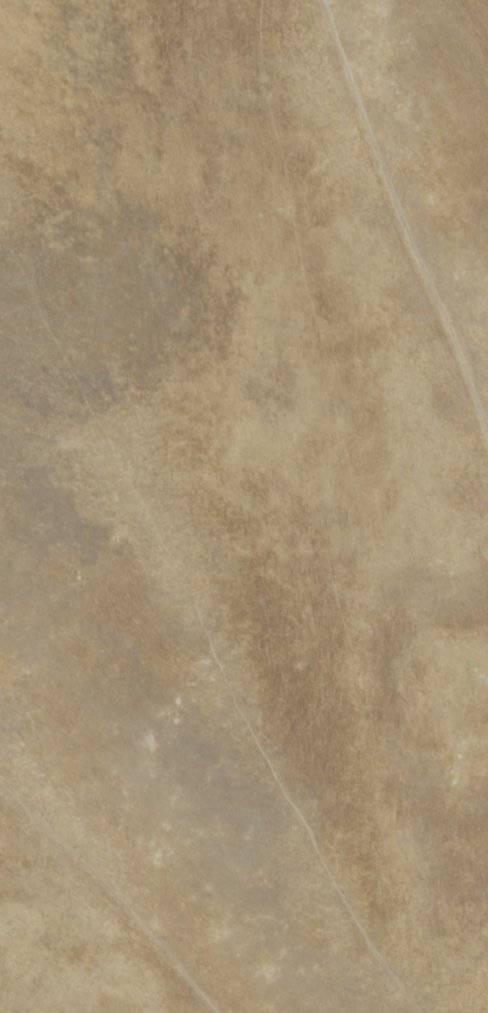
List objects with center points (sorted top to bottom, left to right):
road: (106, 902)

